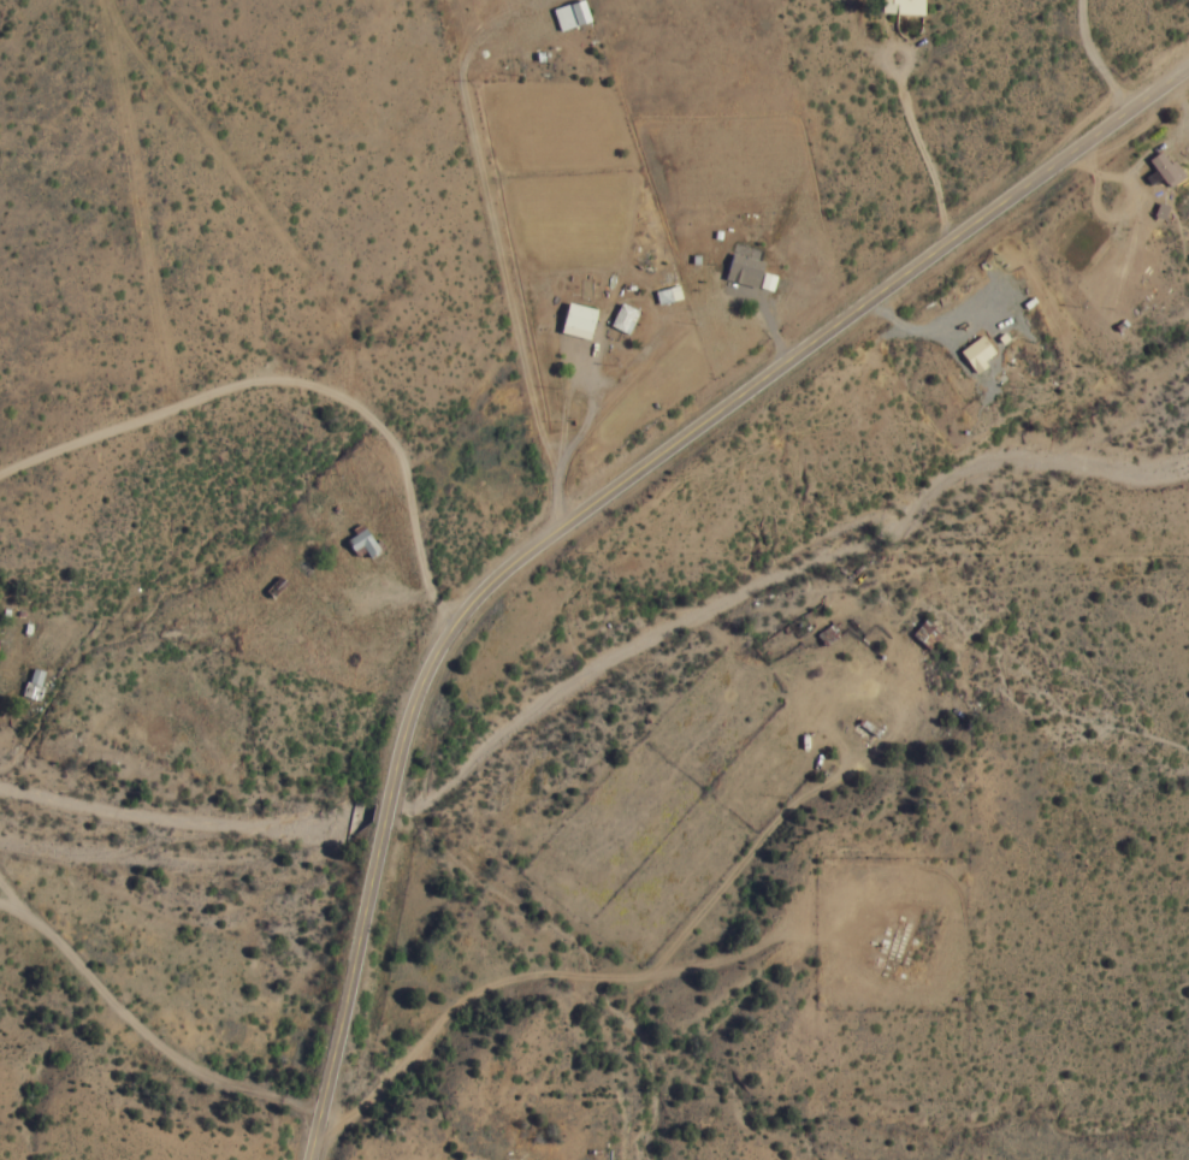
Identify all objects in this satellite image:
building: (901, 7)
building: (569, 16)
building: (1165, 170)
building: (743, 271)
building: (767, 282)
building: (667, 295)
building: (622, 319)
building: (576, 321)
building: (976, 354)
road: (280, 381)
road: (590, 504)
building: (361, 544)
building: (925, 634)
park: (877, 928)
road: (173, 953)

